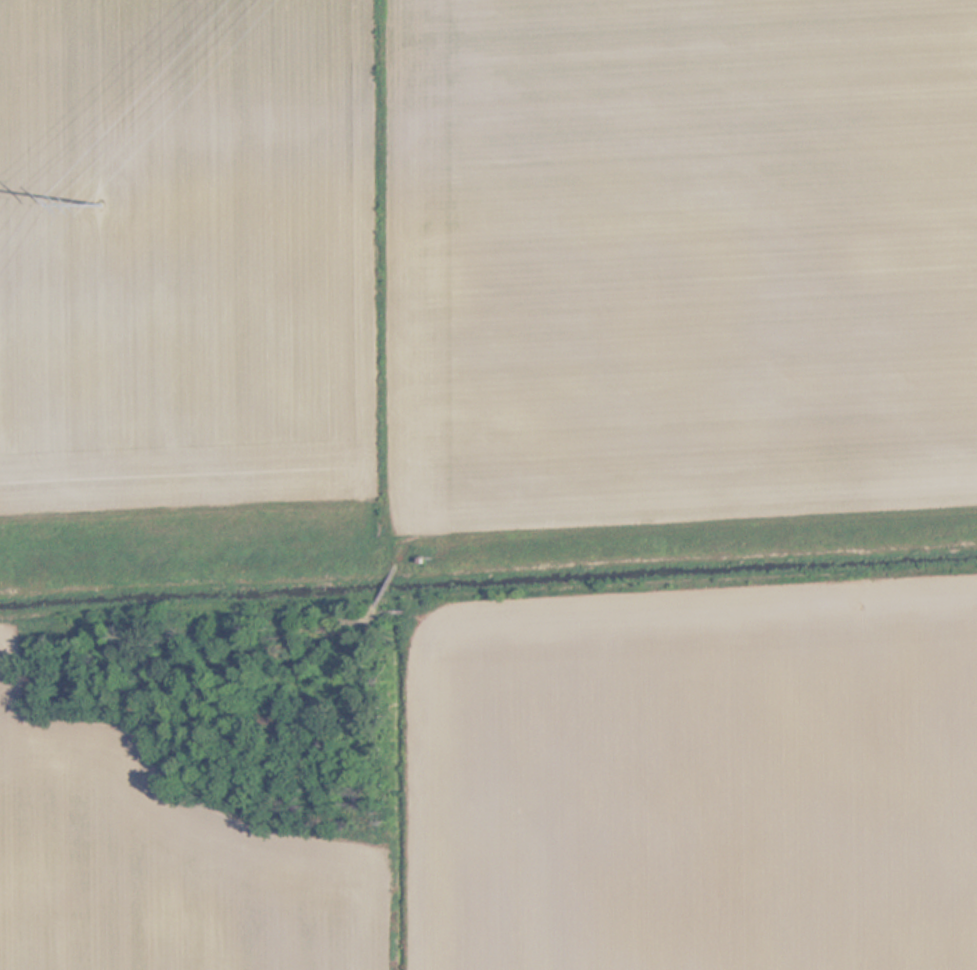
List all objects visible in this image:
power tower: (107, 202)

